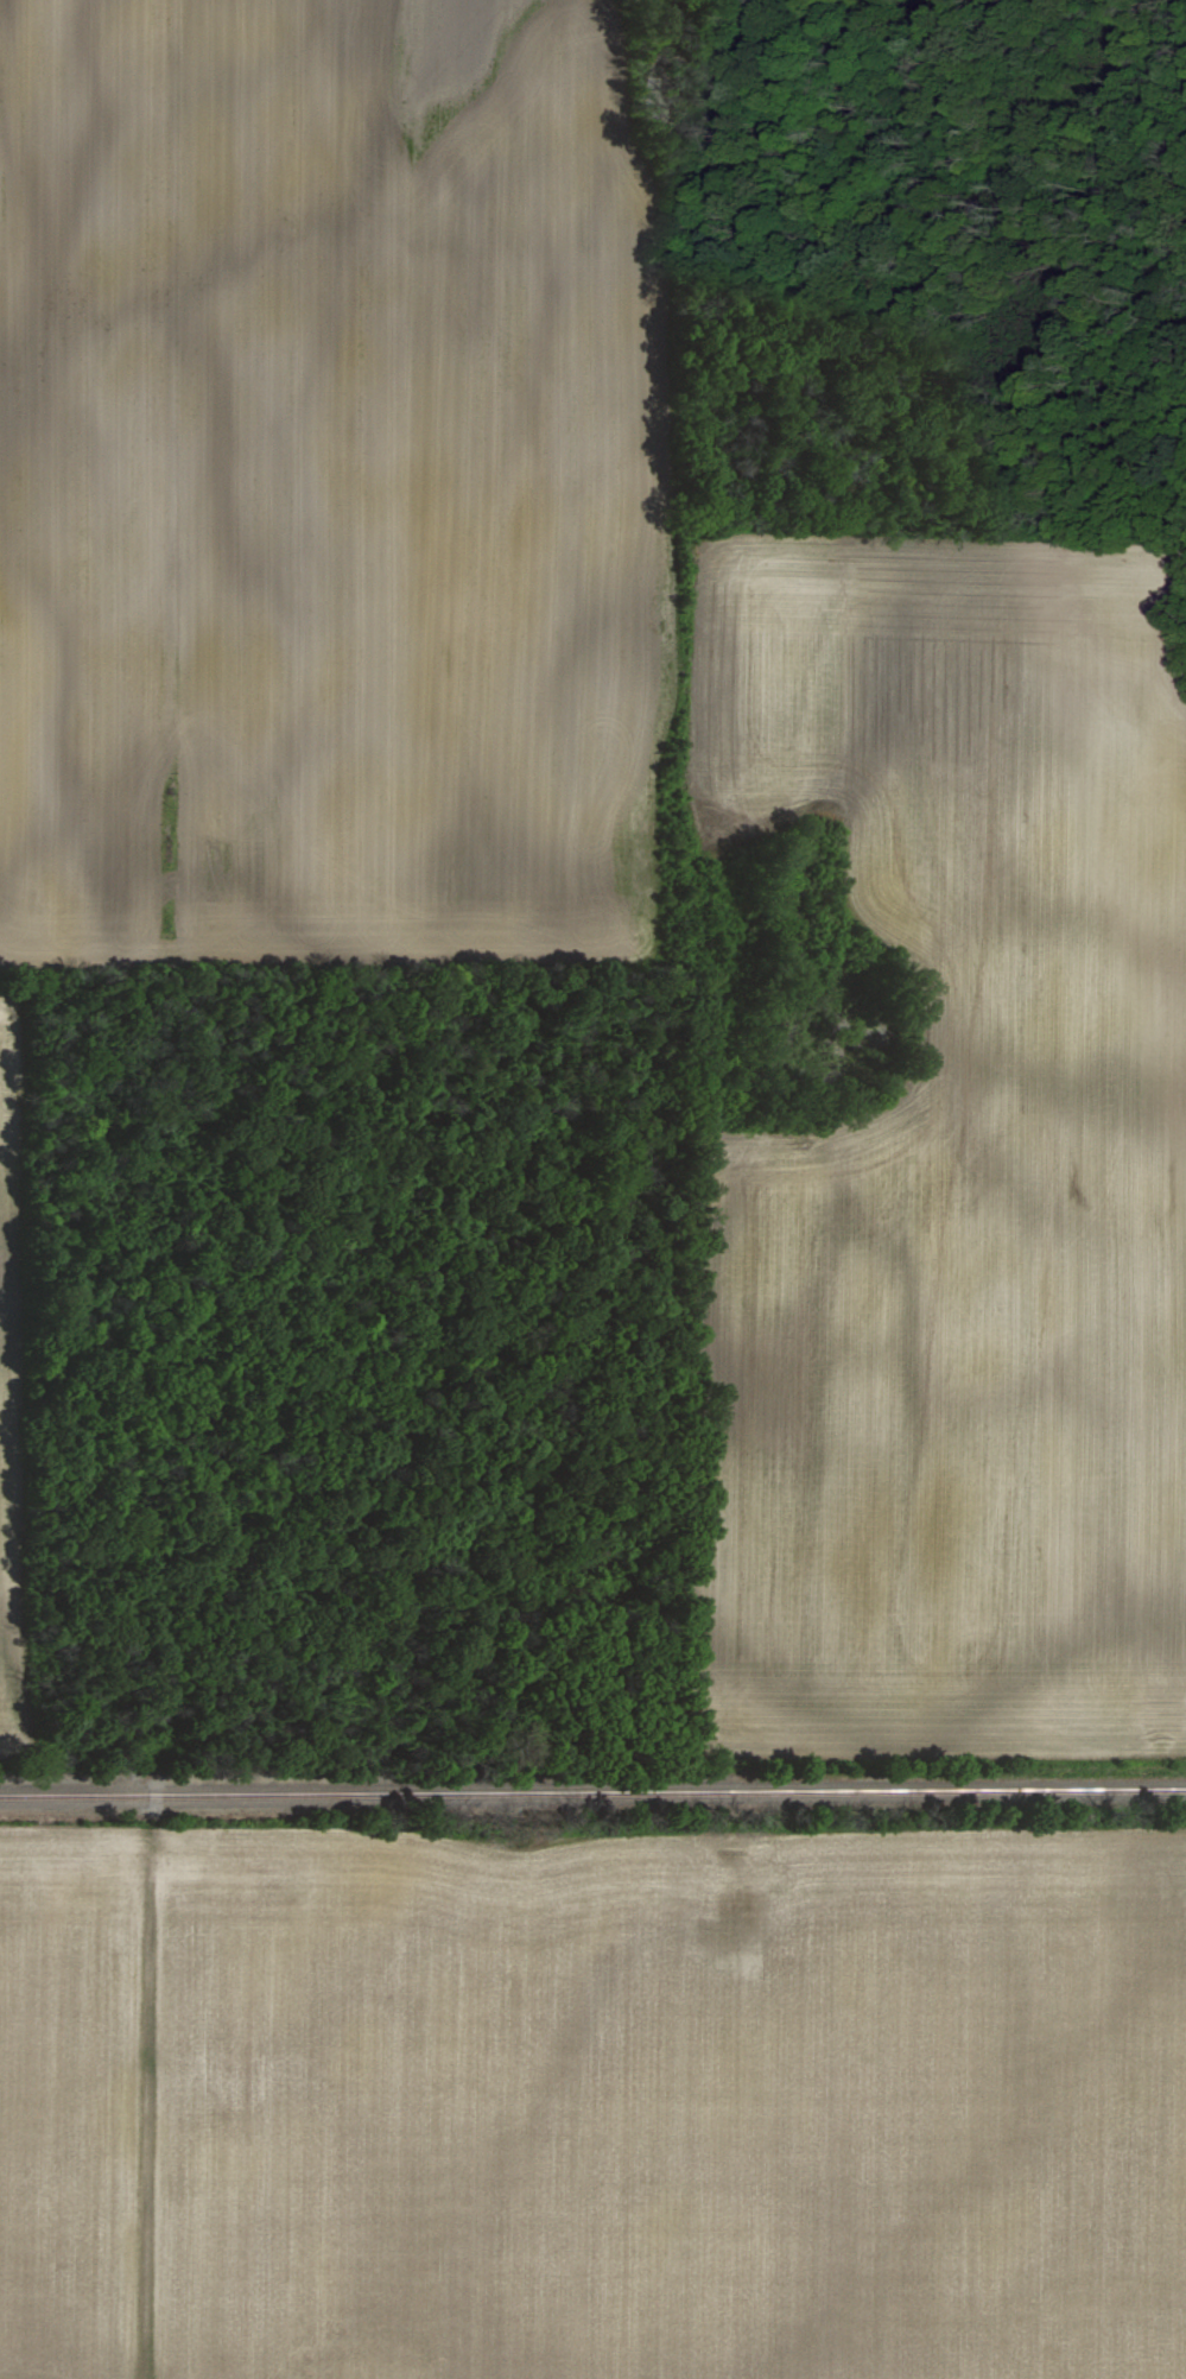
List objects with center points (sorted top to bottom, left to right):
railway: (592, 1792)

